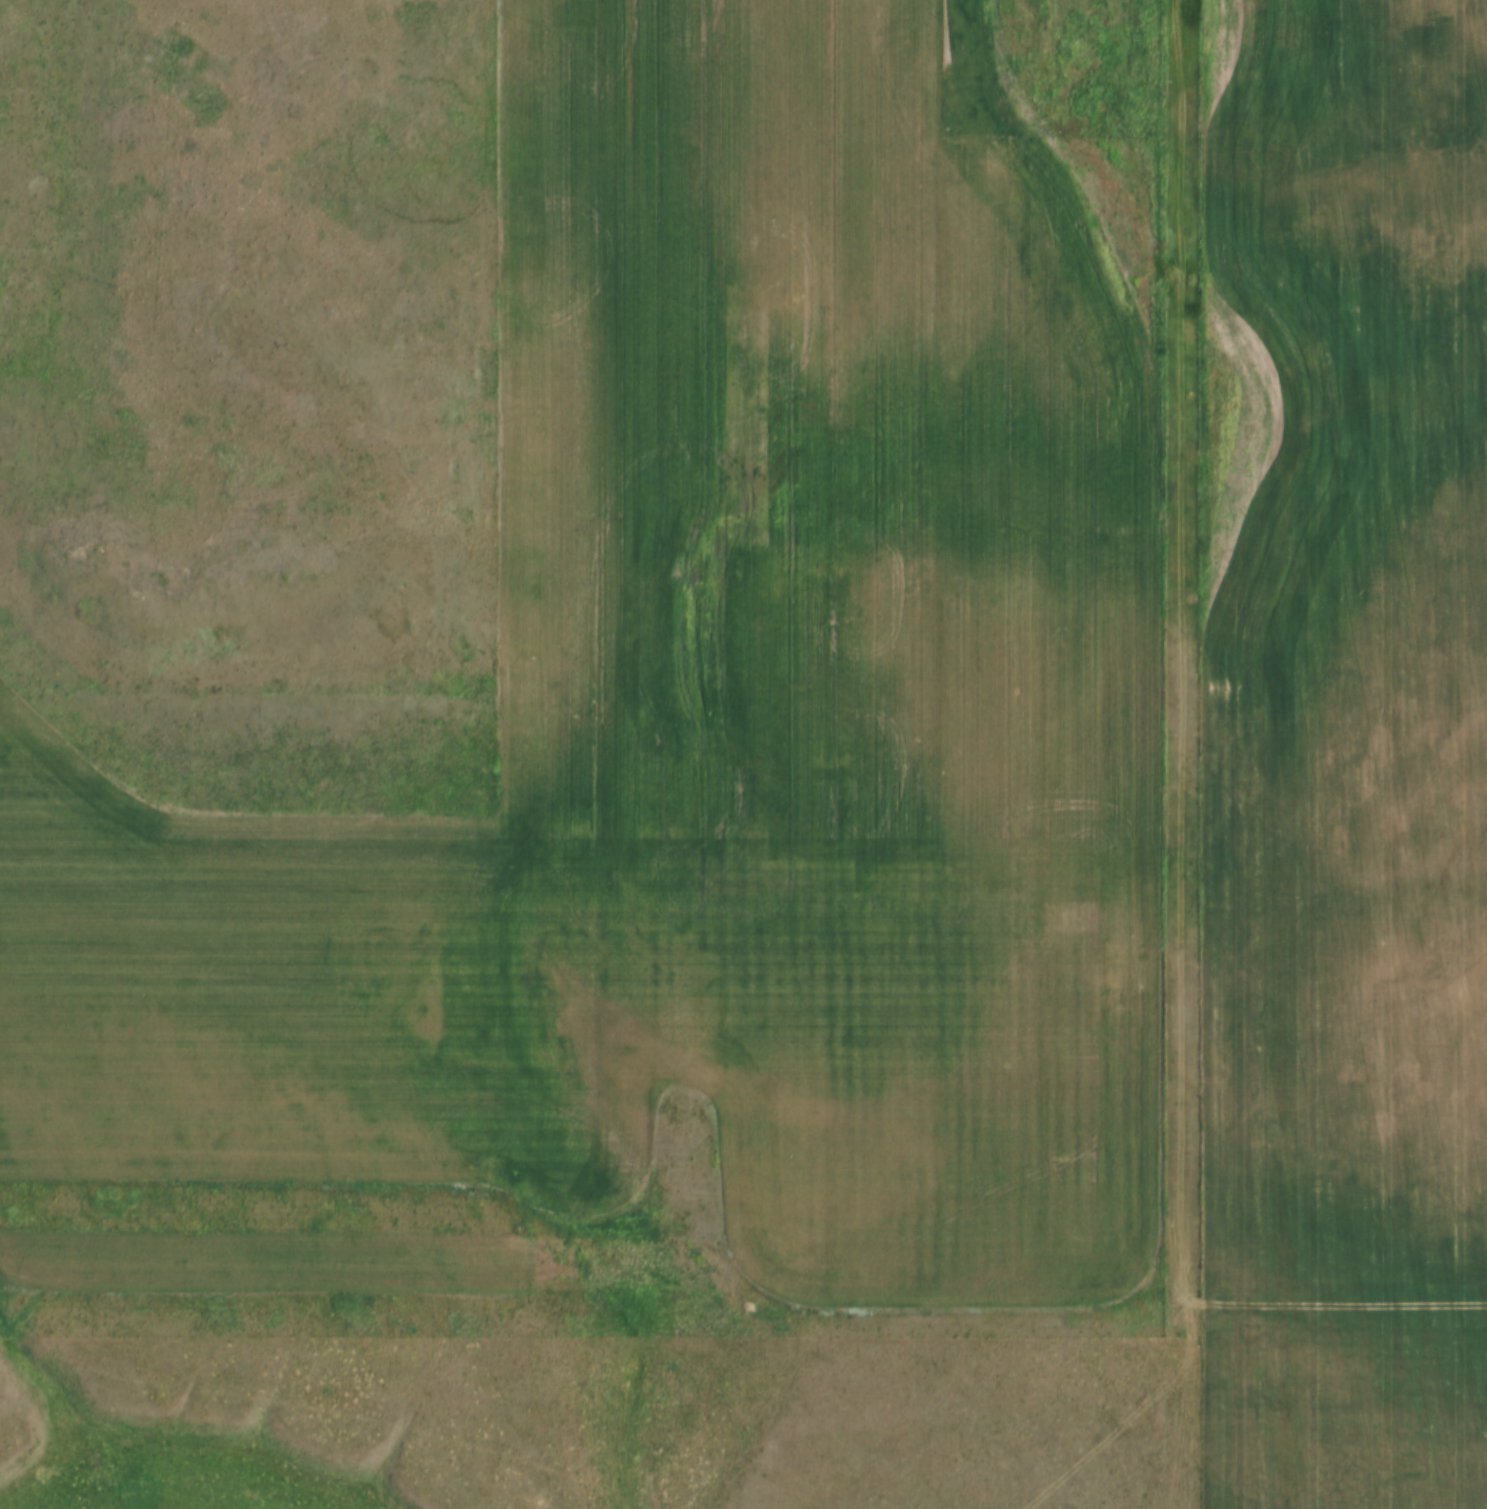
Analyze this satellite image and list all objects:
road: (1350, 1328)

